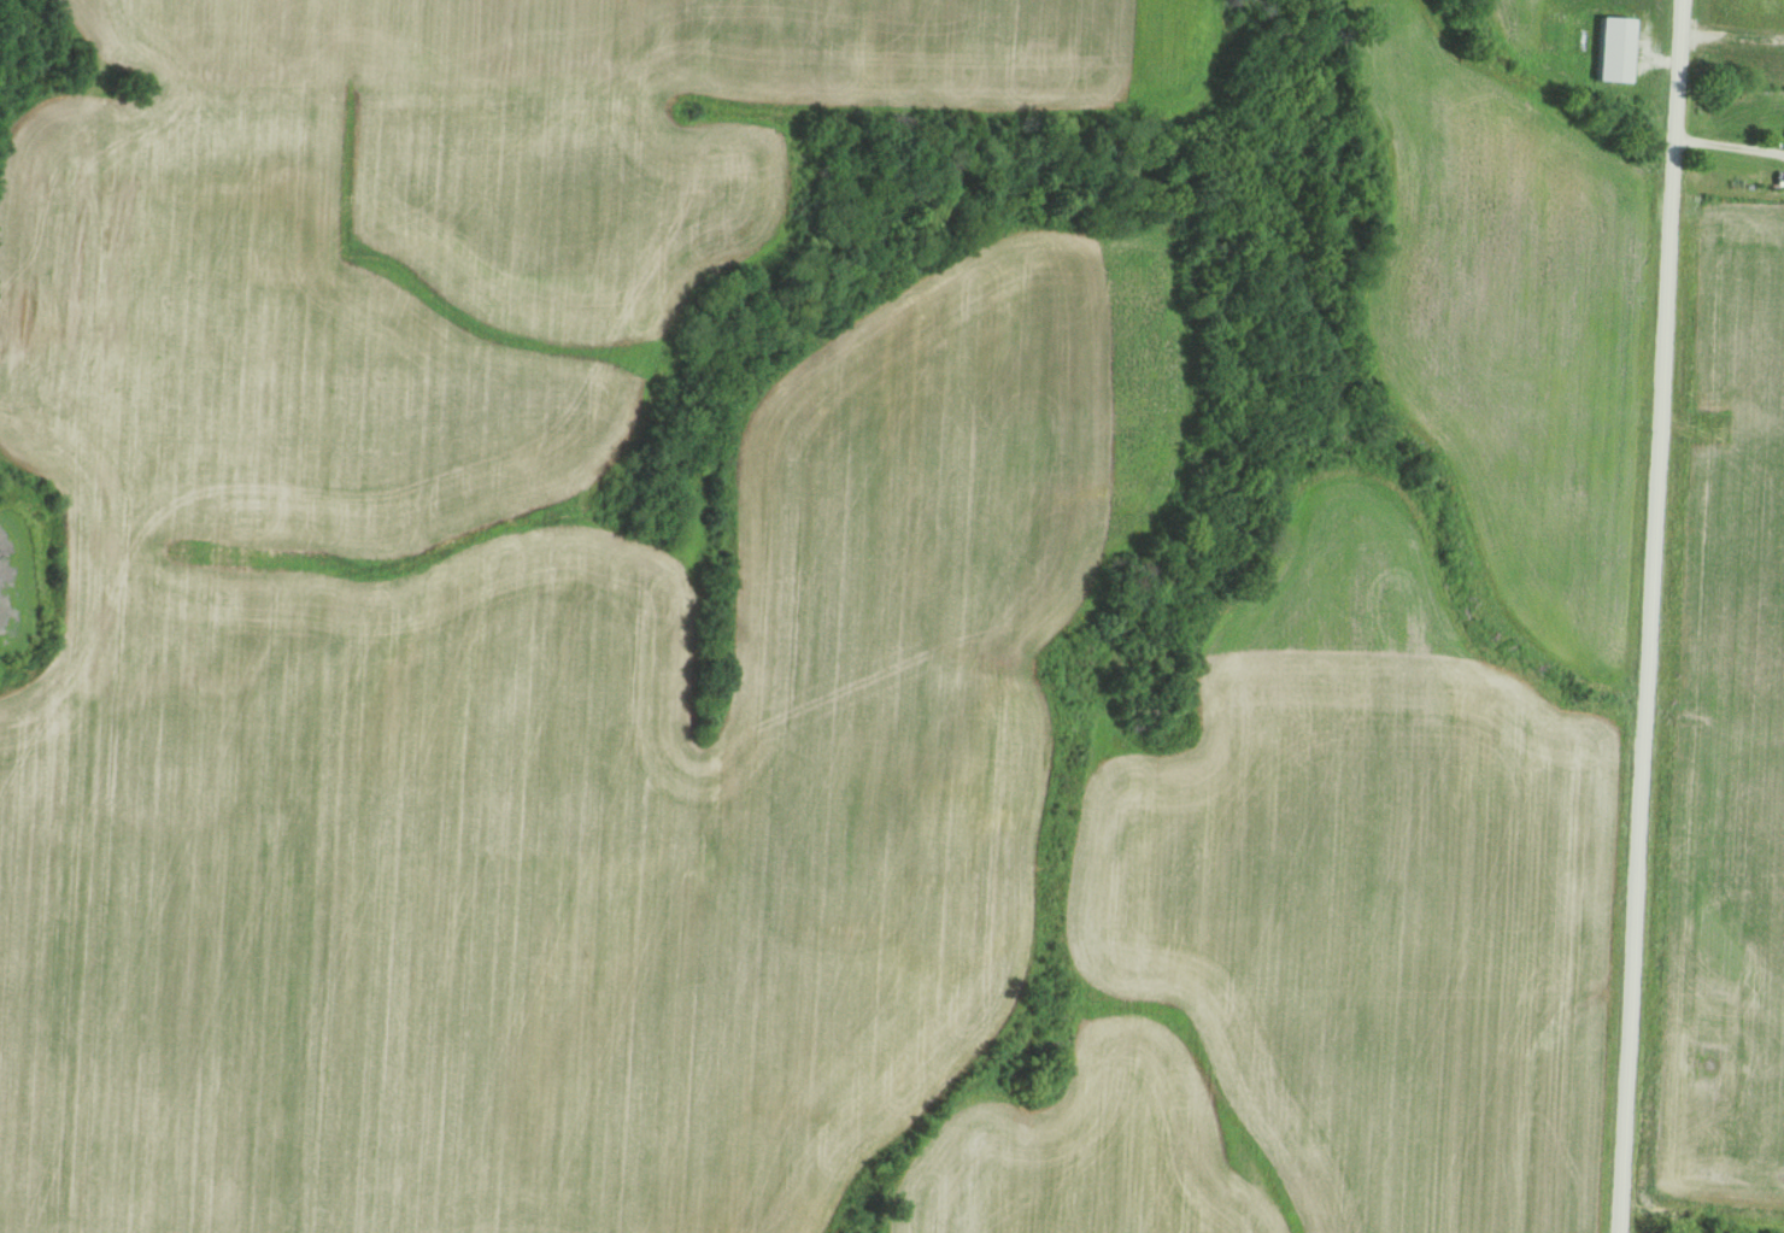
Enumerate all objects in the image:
road: (1732, 143)
road: (1654, 616)

